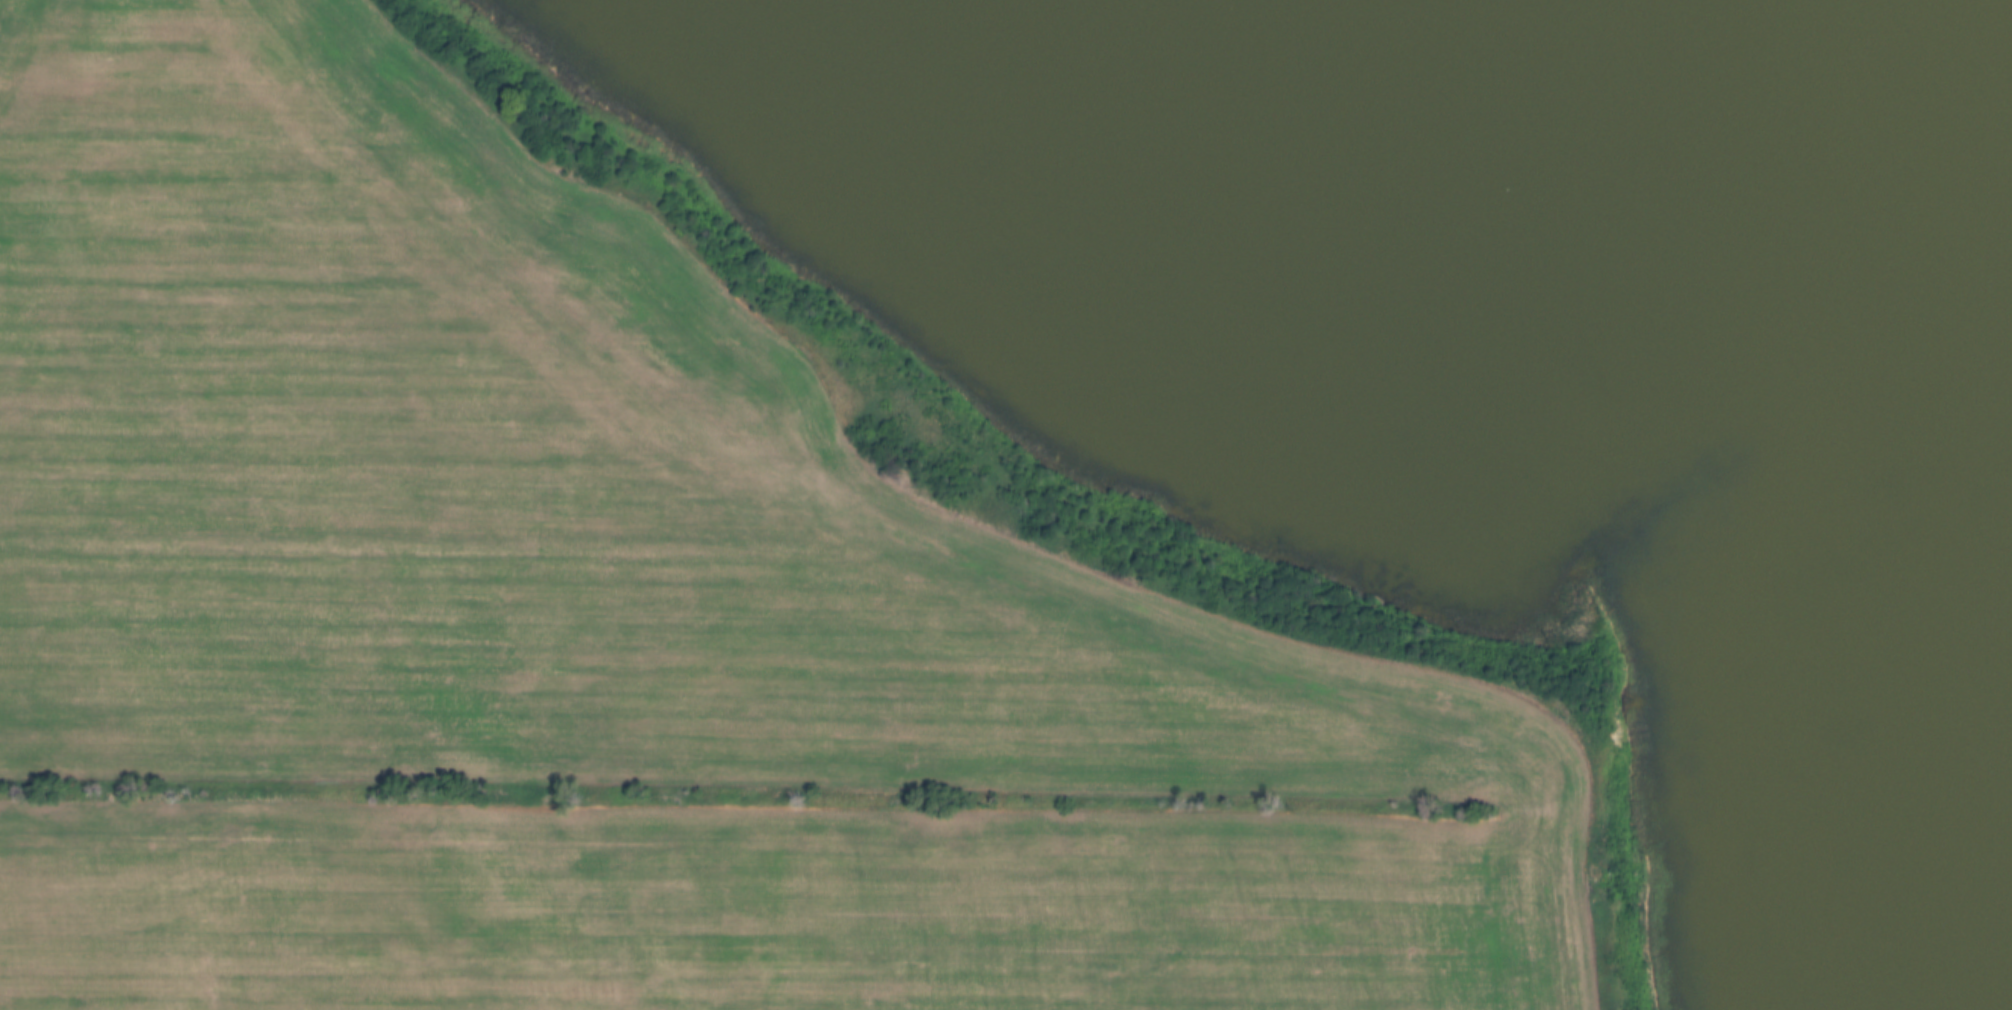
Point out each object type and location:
building: (1667, 164)

